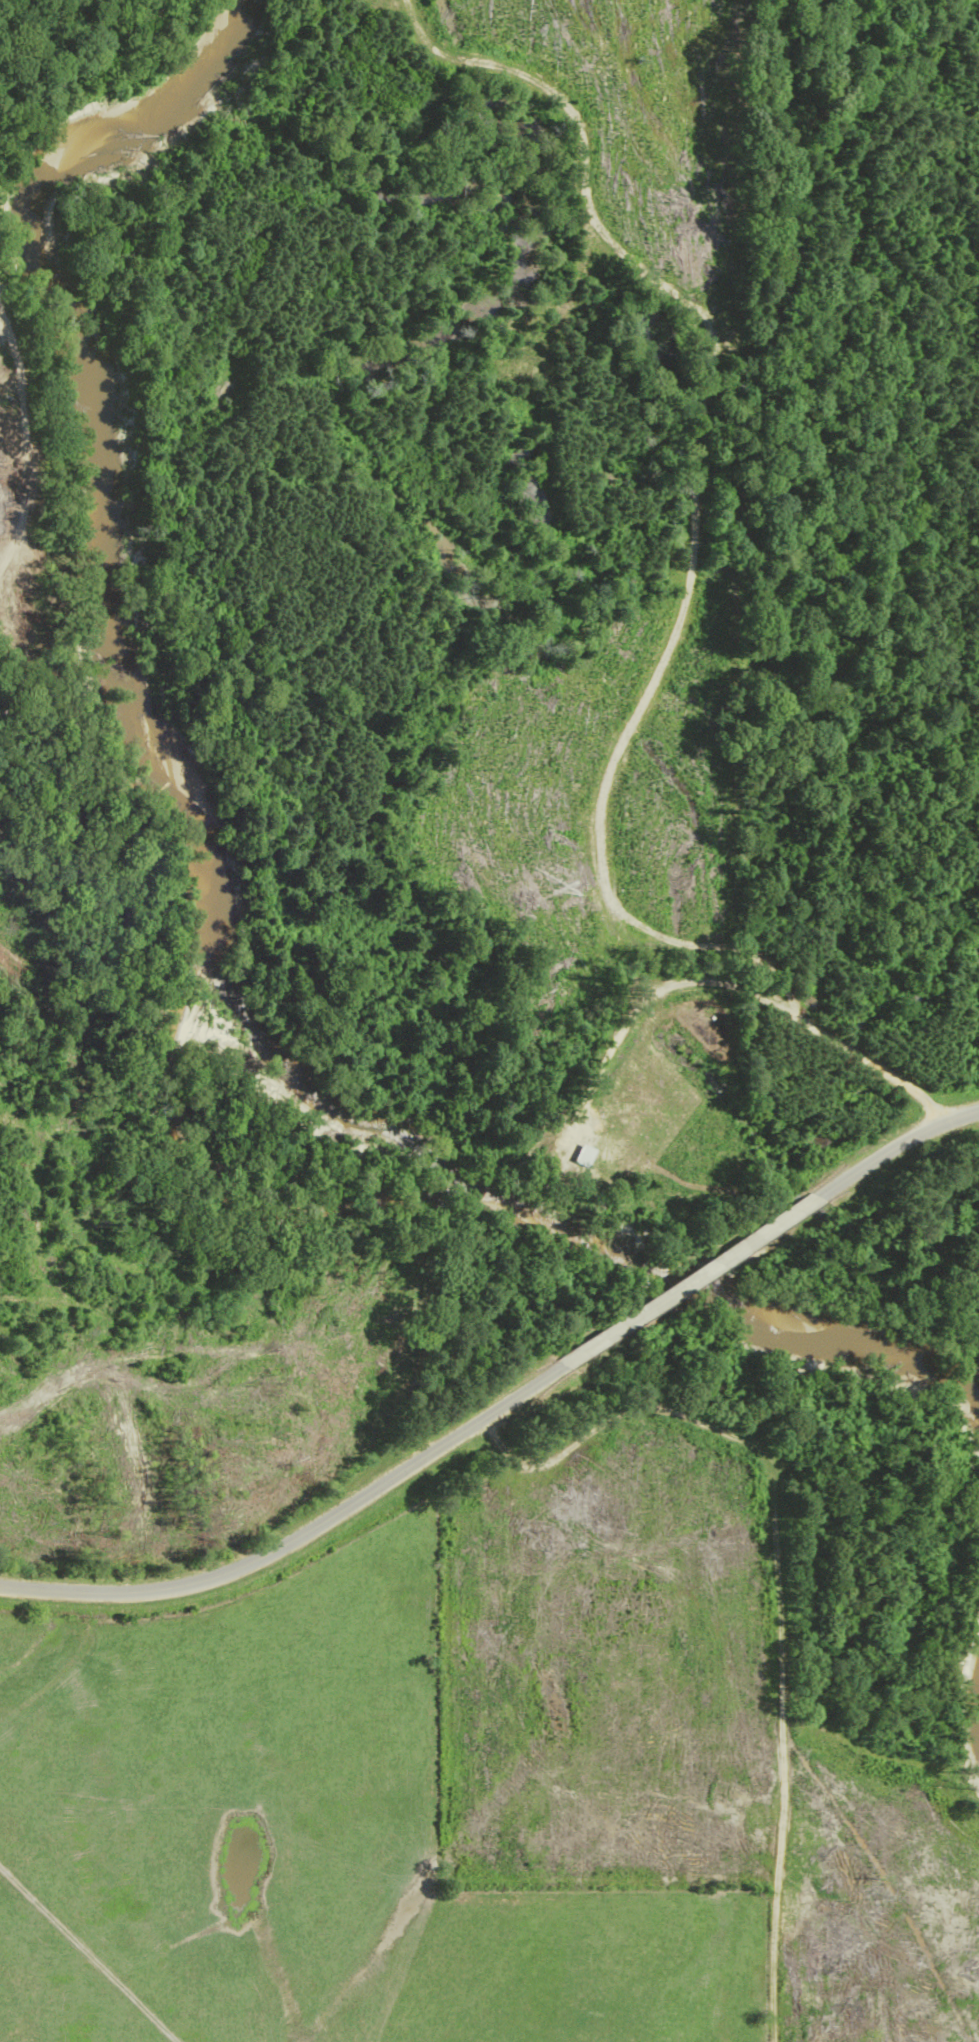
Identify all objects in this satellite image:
river: (198, 865)
road: (891, 1147)
road: (686, 1283)
road: (298, 1535)

